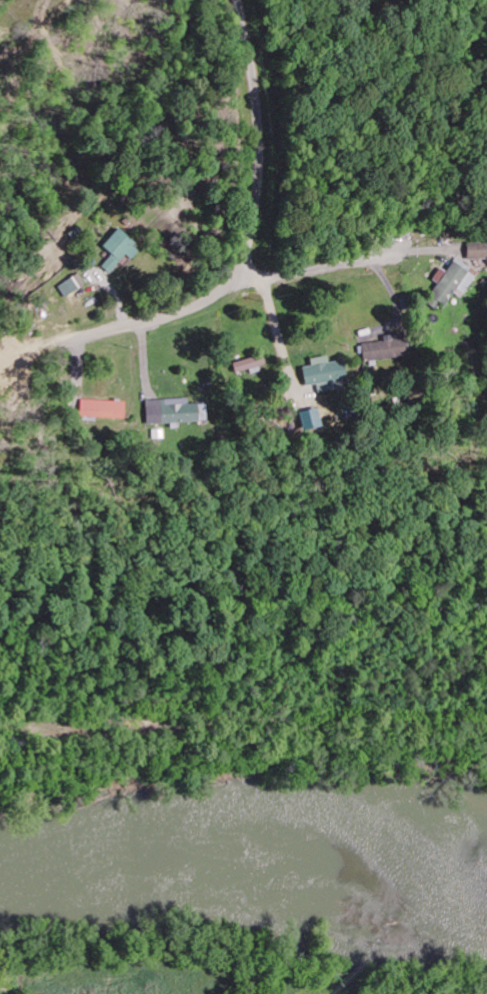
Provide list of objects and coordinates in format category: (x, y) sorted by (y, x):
building: (117, 250)
building: (477, 251)
road: (243, 265)
road: (319, 268)
building: (451, 284)
building: (70, 286)
building: (381, 349)
building: (248, 364)
building: (320, 374)
building: (103, 410)
building: (305, 419)
river: (243, 849)

